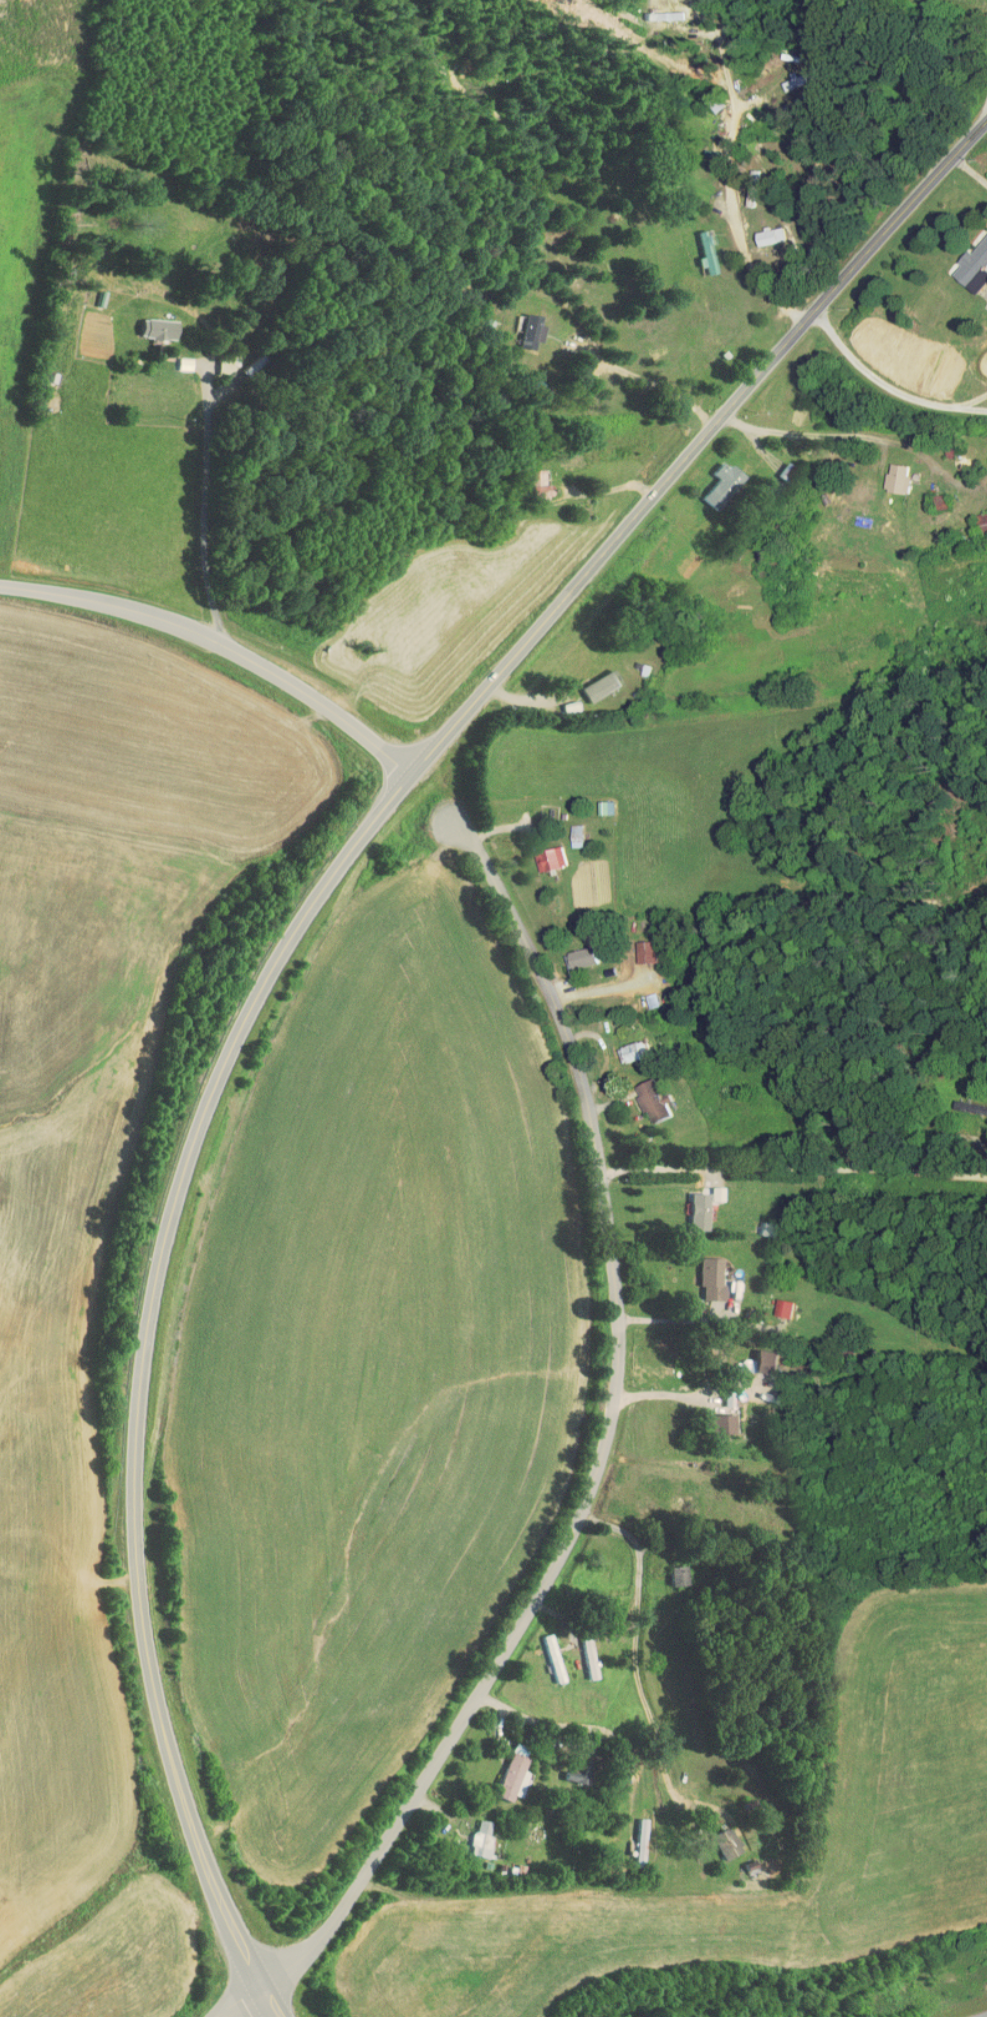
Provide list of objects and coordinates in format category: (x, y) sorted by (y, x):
road: (971, 170)
road: (730, 174)
building: (762, 229)
building: (698, 246)
building: (970, 257)
building: (148, 322)
building: (522, 325)
building: (175, 358)
road: (657, 383)
road: (889, 386)
road: (973, 400)
road: (852, 435)
road: (699, 450)
building: (986, 471)
building: (889, 472)
building: (530, 479)
building: (713, 479)
road: (205, 510)
building: (978, 515)
road: (722, 580)
road: (214, 644)
building: (592, 680)
building: (598, 801)
building: (568, 829)
building: (543, 853)
building: (638, 946)
building: (575, 951)
building: (629, 1044)
building: (645, 1095)
road: (795, 1170)
building: (708, 1188)
building: (690, 1206)
building: (702, 1273)
building: (776, 1302)
road: (130, 1371)
building: (711, 1419)
road: (607, 1439)
road: (626, 1650)
building: (545, 1654)
building: (580, 1654)
building: (501, 1770)
building: (513, 1776)
building: (472, 1833)
building: (632, 1834)
building: (718, 1836)
road: (240, 2003)

